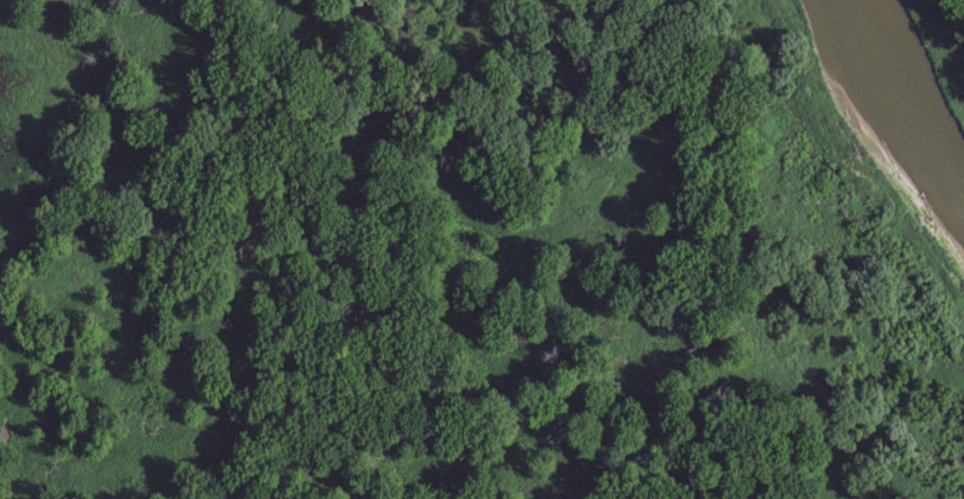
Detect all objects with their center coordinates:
river: (900, 108)

